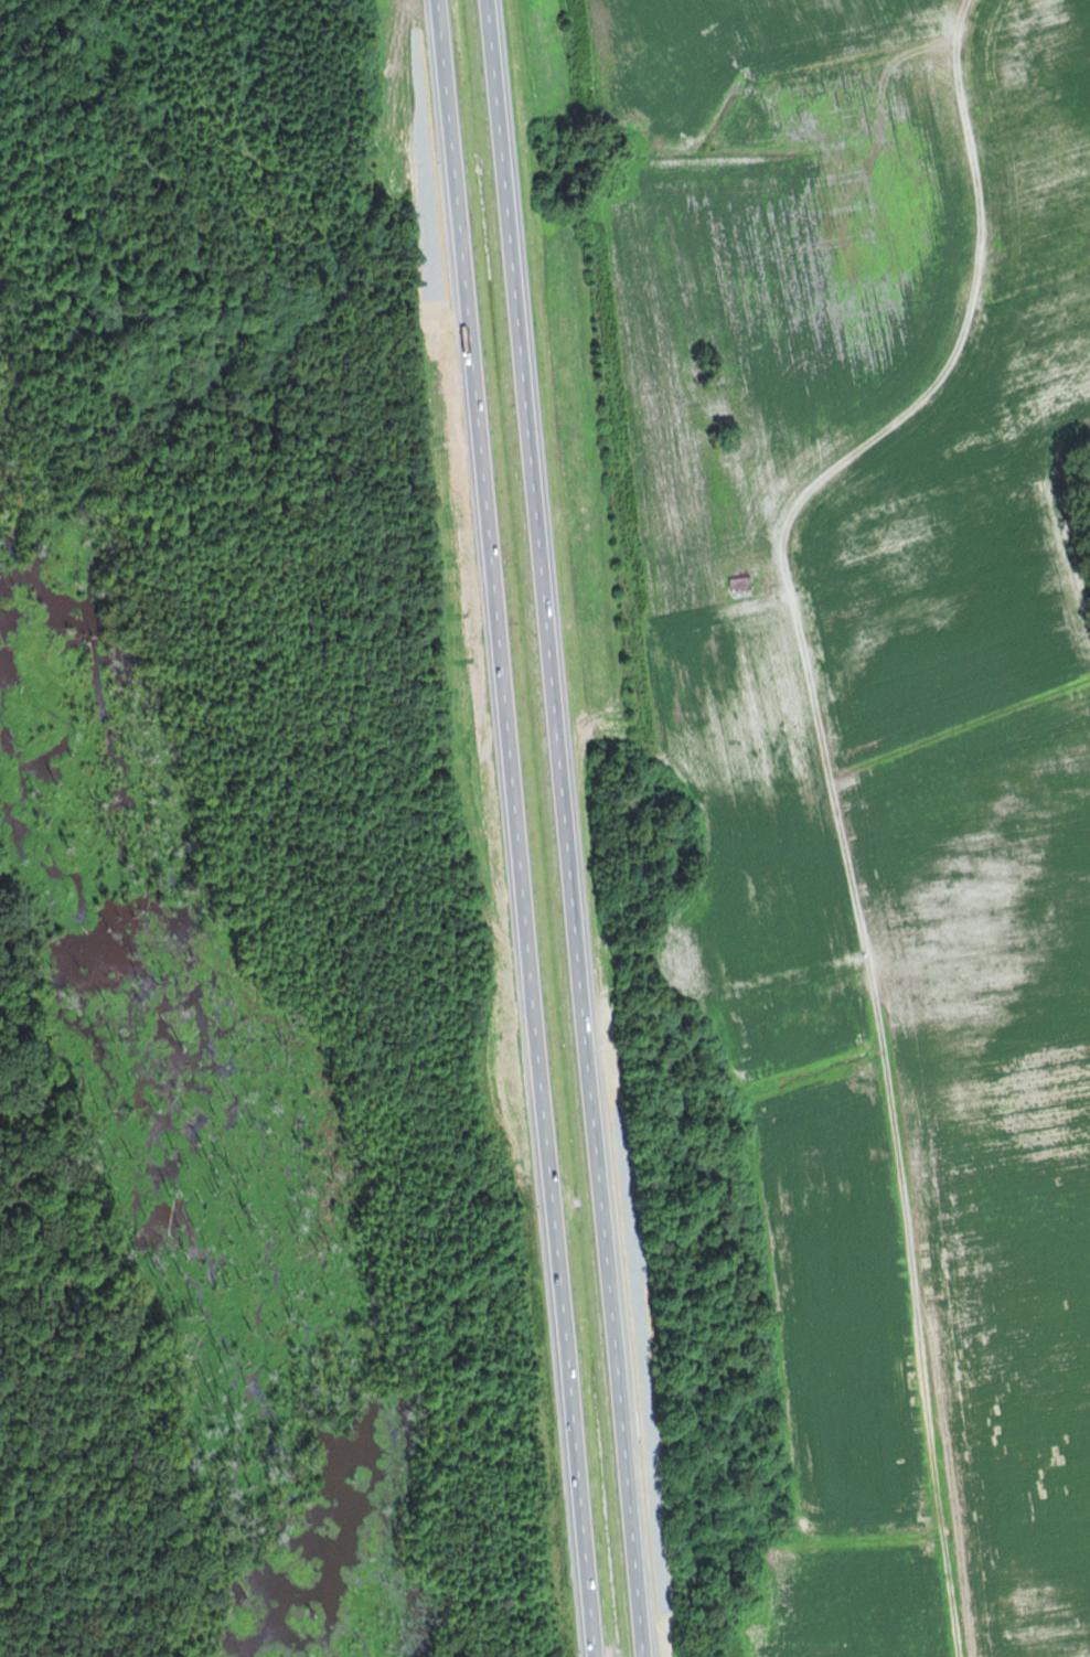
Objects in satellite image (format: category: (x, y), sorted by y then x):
road: (531, 827)
road: (575, 827)

